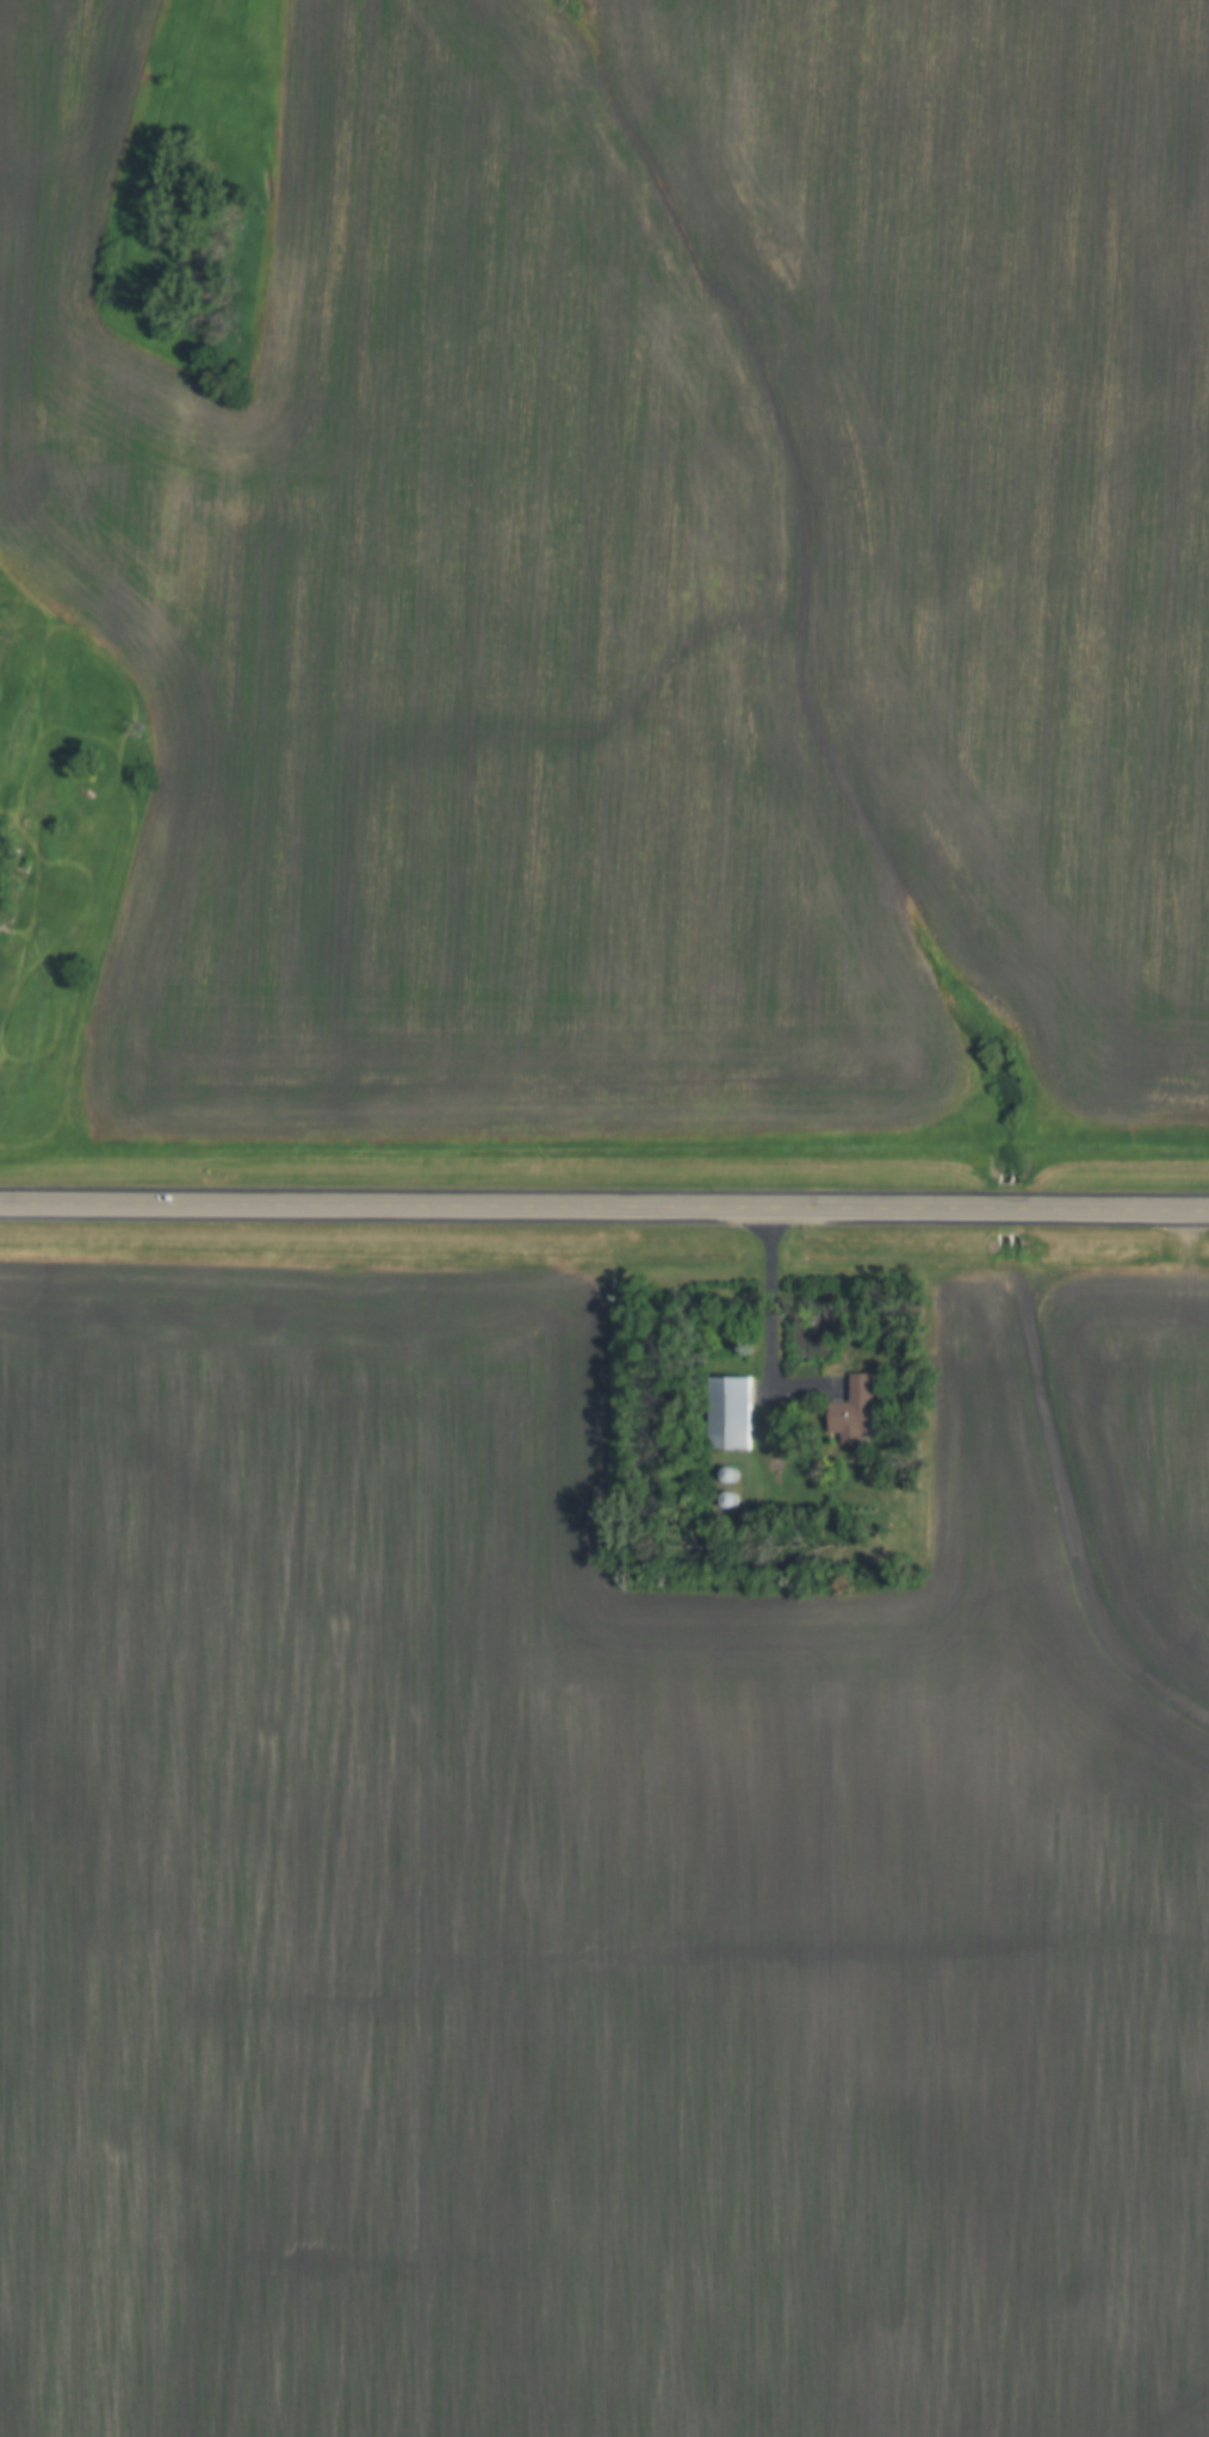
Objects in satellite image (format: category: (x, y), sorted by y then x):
crop: (649, 563)
road: (604, 1205)
road: (771, 1338)

